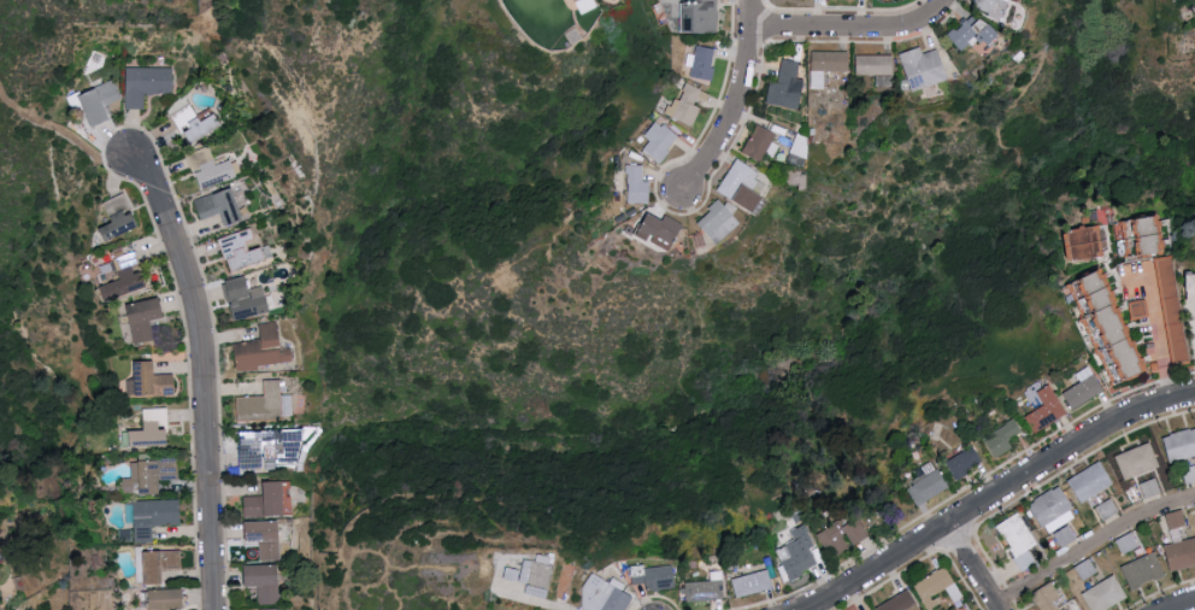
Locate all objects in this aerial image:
building: (585, 5)
building: (993, 6)
building: (701, 16)
building: (975, 31)
road: (858, 34)
building: (702, 61)
building: (828, 65)
building: (877, 68)
building: (925, 68)
building: (147, 83)
building: (788, 86)
building: (98, 101)
building: (687, 105)
road: (741, 105)
building: (196, 123)
building: (660, 140)
building: (761, 142)
building: (208, 165)
building: (638, 184)
building: (746, 186)
building: (222, 206)
building: (120, 217)
building: (719, 221)
building: (661, 230)
building: (1141, 235)
building: (1085, 242)
building: (243, 250)
building: (125, 276)
building: (1194, 287)
building: (248, 298)
building: (1159, 306)
building: (1138, 309)
building: (146, 317)
road: (1156, 319)
building: (1109, 327)
building: (264, 348)
road: (204, 376)
building: (152, 381)
road: (1168, 385)
building: (1084, 388)
building: (266, 404)
building: (1047, 410)
building: (153, 428)
building: (1003, 438)
building: (1179, 445)
building: (270, 450)
building: (1137, 461)
building: (965, 462)
building: (1188, 474)
building: (146, 476)
building: (1091, 481)
building: (926, 485)
building: (1150, 487)
road: (1000, 495)
building: (269, 500)
building: (1107, 509)
building: (1054, 510)
building: (154, 516)
building: (1176, 520)
building: (859, 532)
building: (1065, 536)
building: (265, 538)
building: (1019, 540)
building: (834, 541)
building: (1128, 541)
road: (1091, 544)
building: (801, 553)
building: (1182, 553)
building: (160, 564)
road: (975, 568)
building: (1143, 570)
building: (532, 574)
building: (661, 577)
building: (638, 580)
building: (264, 581)
building: (753, 583)
building: (706, 588)
building: (938, 588)
building: (605, 594)
building: (1105, 594)
building: (1048, 598)
building: (167, 599)
road: (1190, 608)

